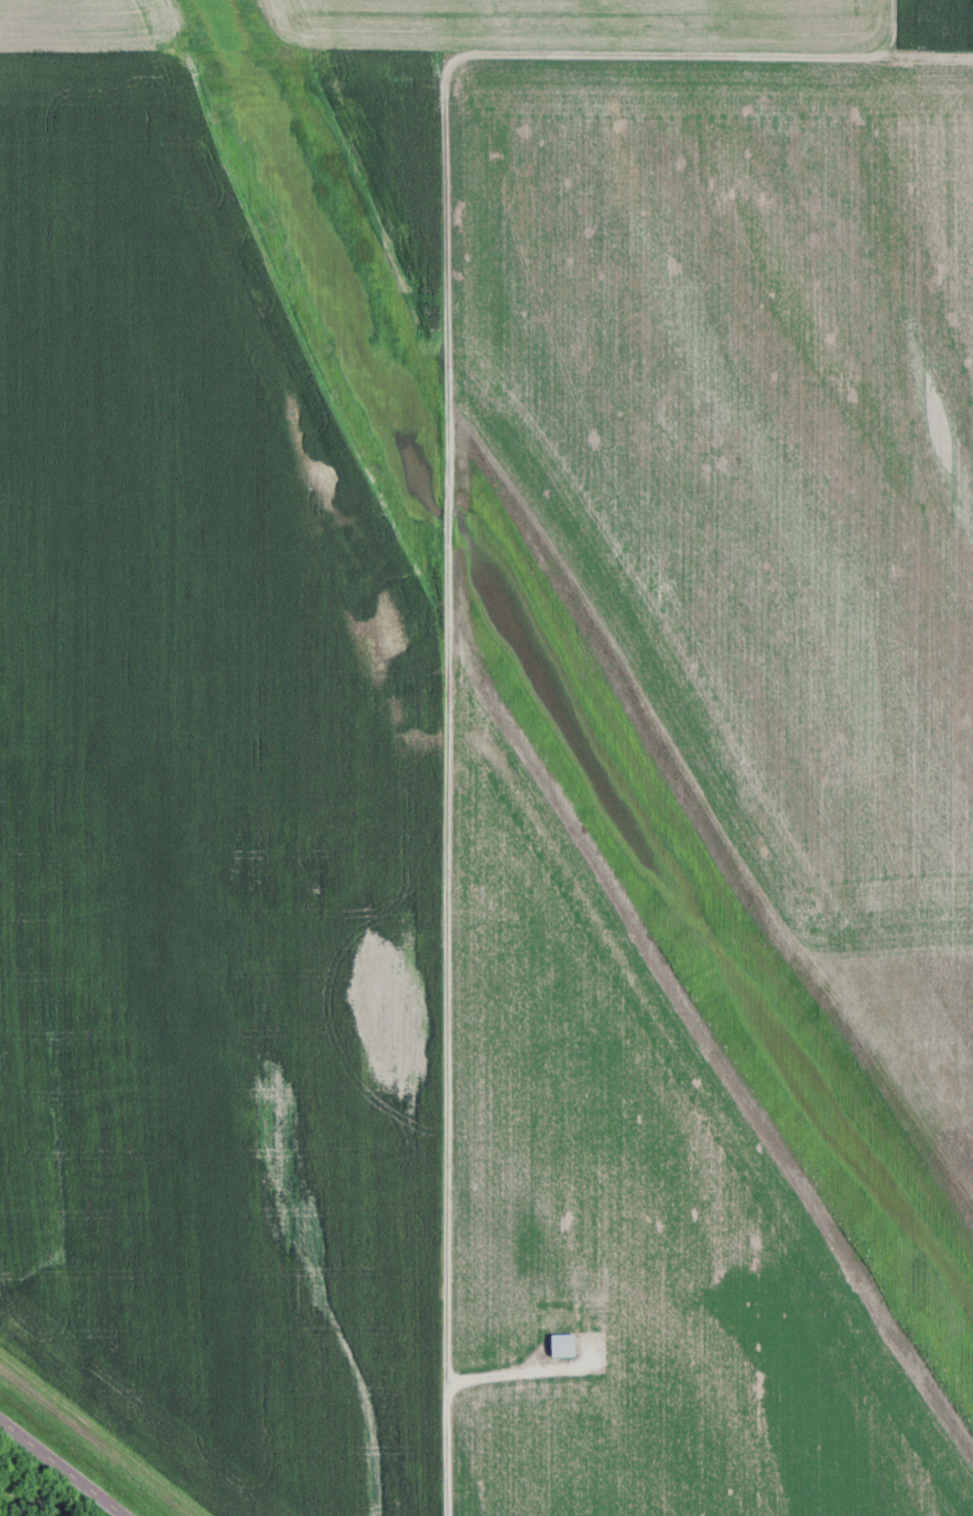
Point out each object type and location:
crop: (941, 26)
crop: (421, 28)
crop: (715, 499)
crop: (225, 771)
crop: (717, 1223)
building: (566, 1347)
road: (58, 1470)
river: (0, 1515)

